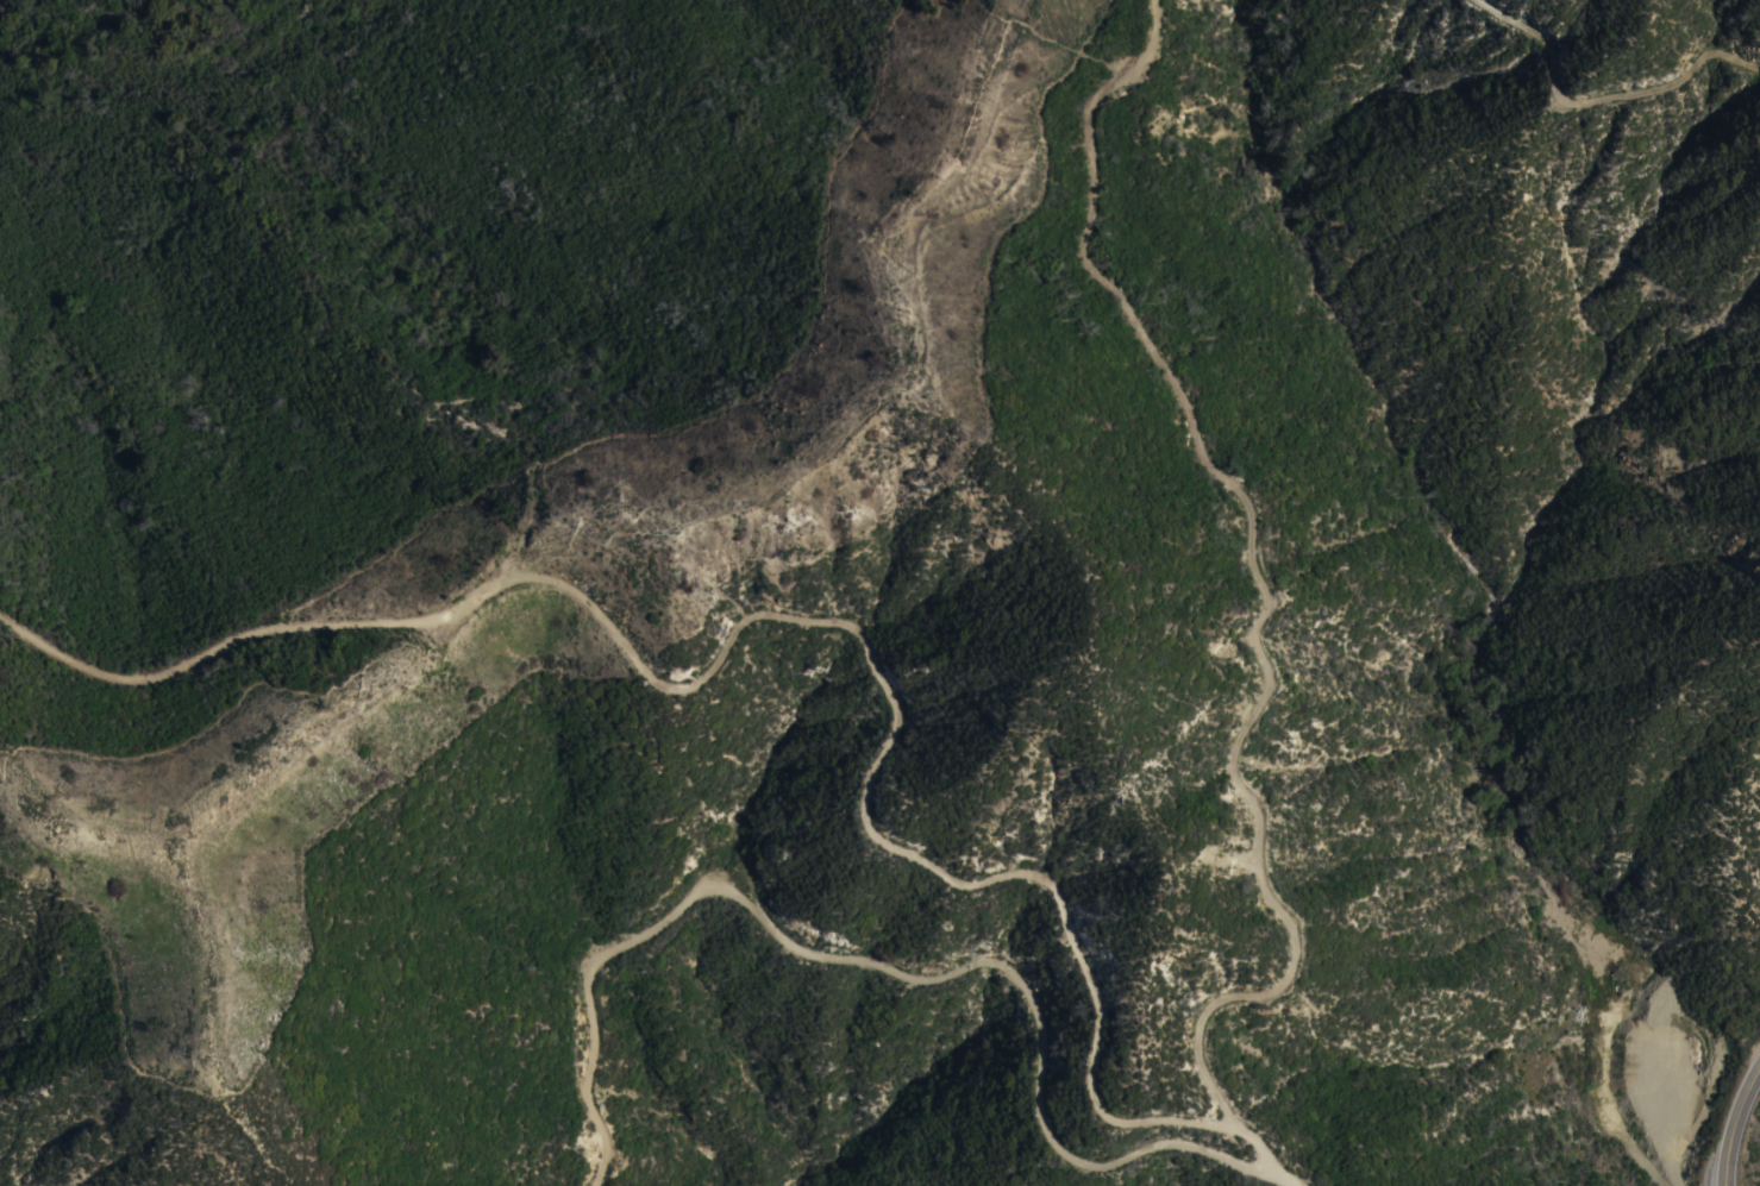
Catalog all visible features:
road: (1597, 87)
road: (170, 665)
road: (898, 720)
road: (1202, 1067)
road: (1610, 1112)
road: (1733, 1122)
road: (1285, 1173)

